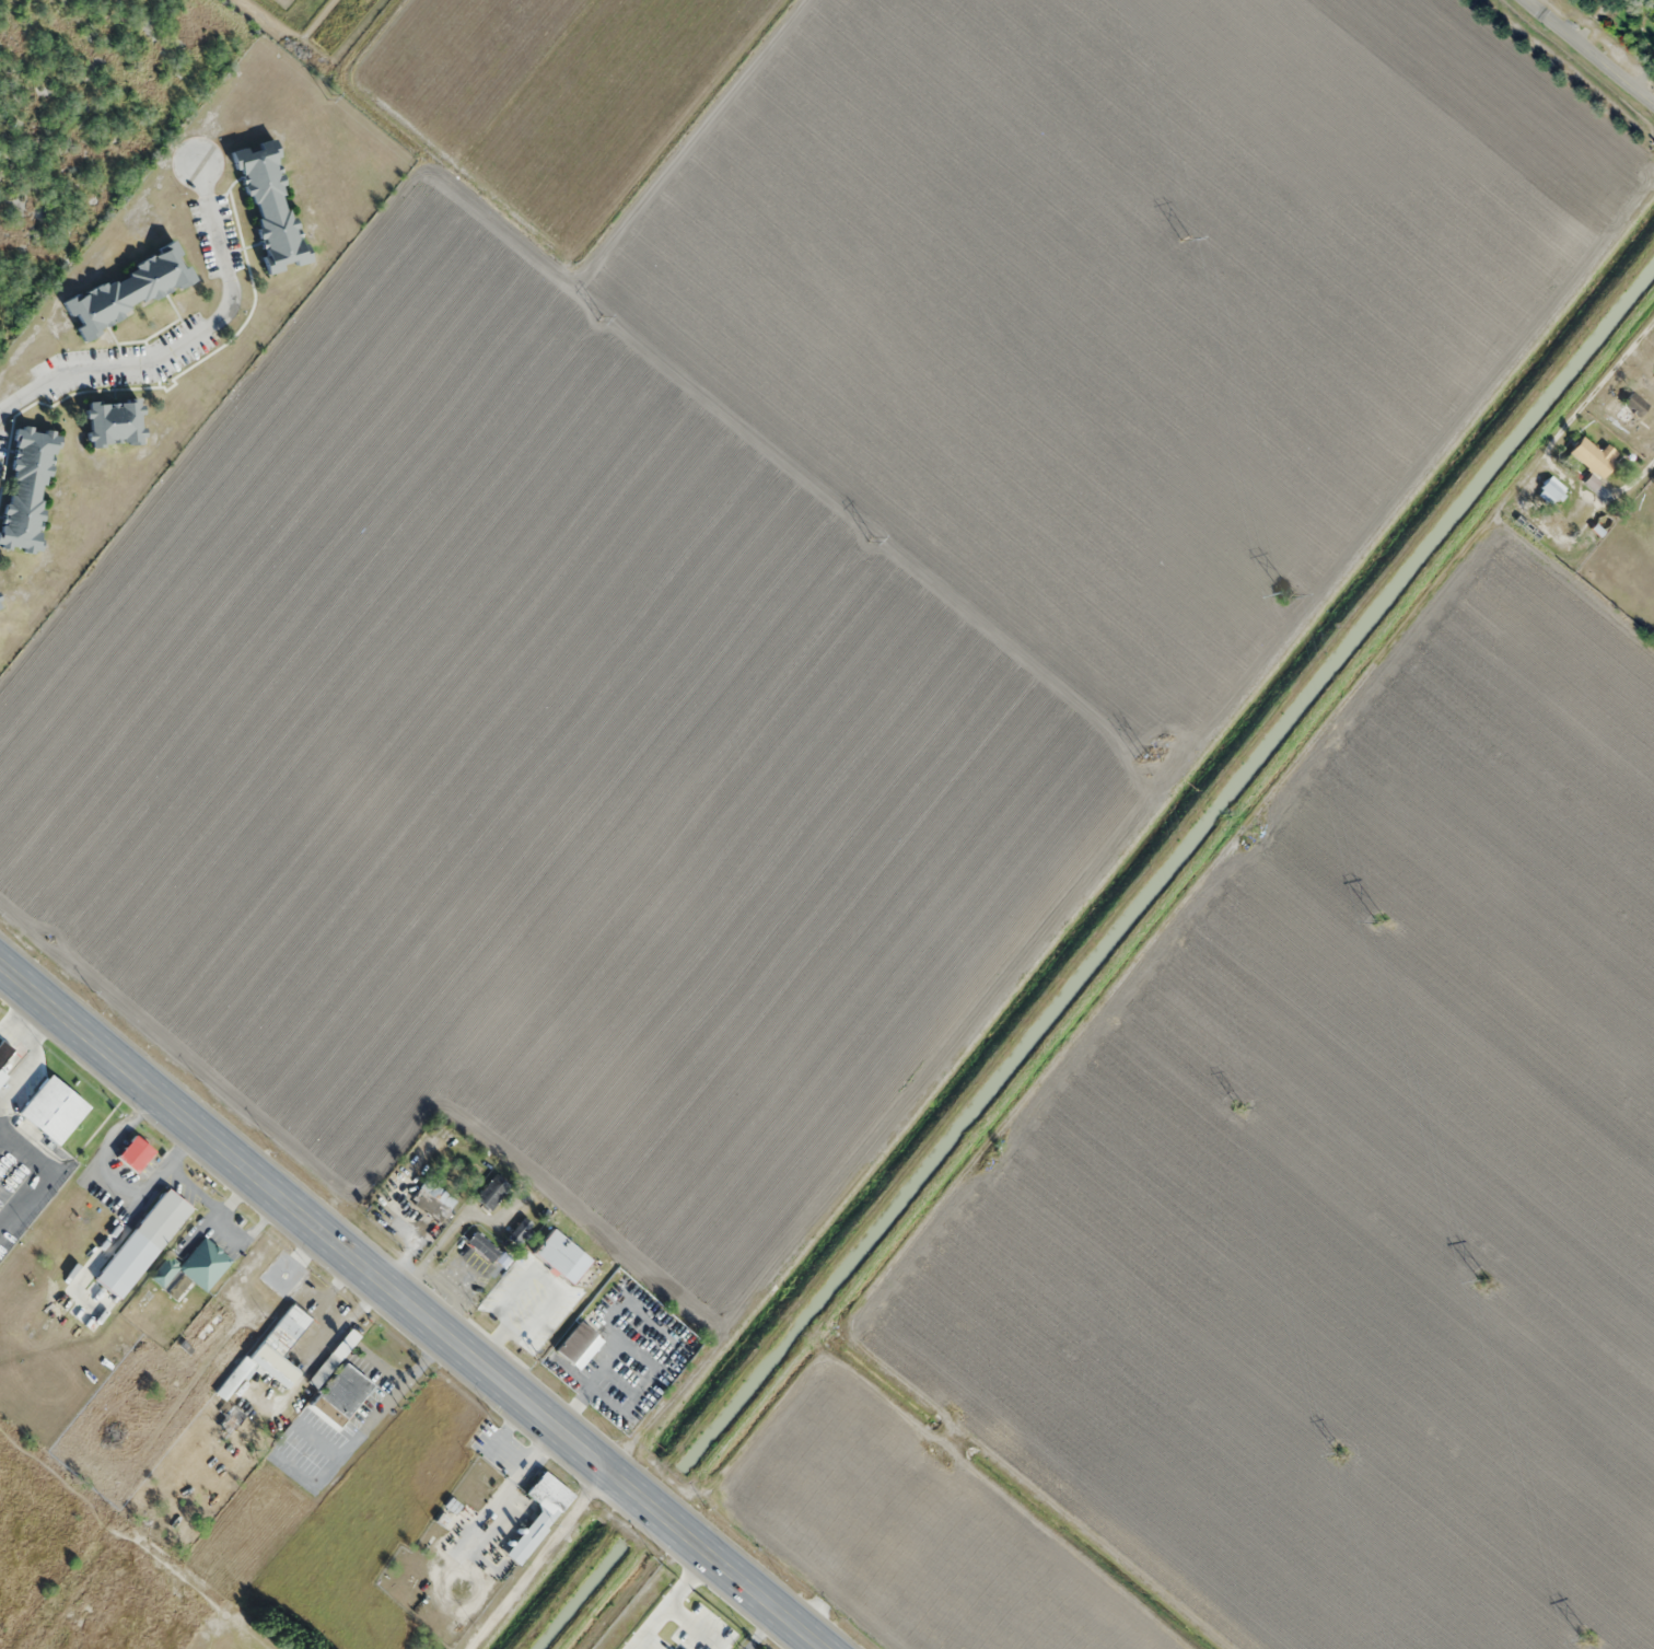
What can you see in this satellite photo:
road: (1588, 53)
power tower: (329, 97)
building: (269, 206)
power tower: (1185, 237)
building: (127, 290)
power tower: (599, 317)
road: (185, 337)
building: (1629, 407)
building: (113, 422)
building: (1594, 456)
building: (26, 486)
building: (1552, 488)
power tower: (872, 538)
power tower: (1288, 594)
power tower: (1143, 757)
power tower: (1382, 922)
building: (4, 1058)
power tower: (1240, 1105)
building: (50, 1111)
building: (135, 1154)
building: (492, 1193)
building: (432, 1201)
building: (162, 1219)
building: (521, 1232)
building: (482, 1246)
building: (195, 1266)
power tower: (1486, 1281)
road: (409, 1313)
building: (578, 1347)
building: (334, 1359)
building: (263, 1365)
building: (346, 1392)
power tower: (1341, 1454)
building: (538, 1514)
road: (540, 1561)
road: (814, 1611)
building: (684, 1636)
power tower: (1586, 1639)

